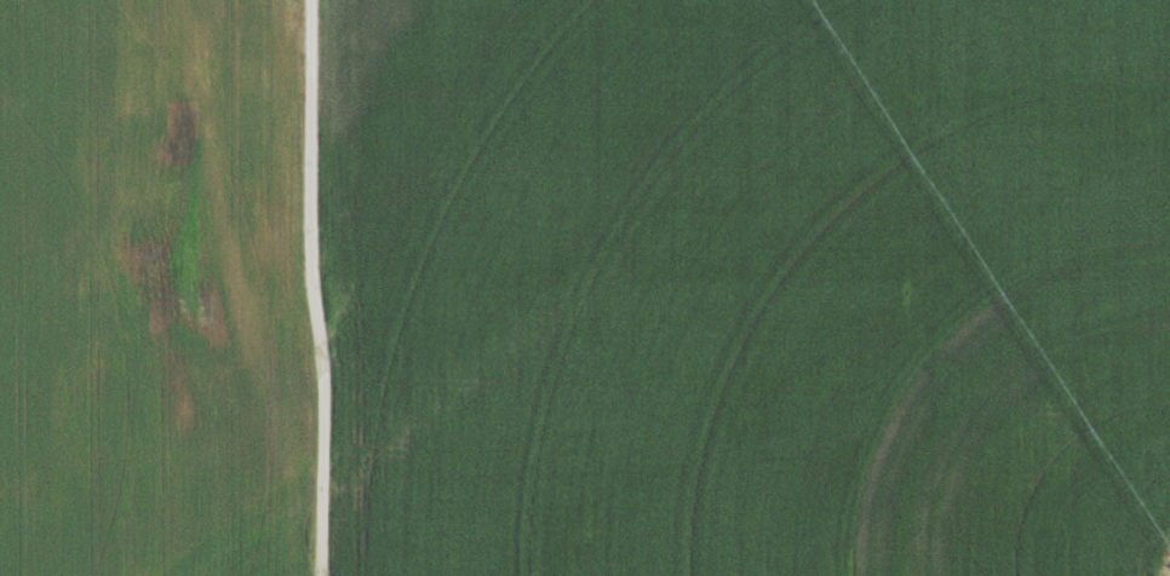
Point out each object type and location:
airport: (256, 542)

